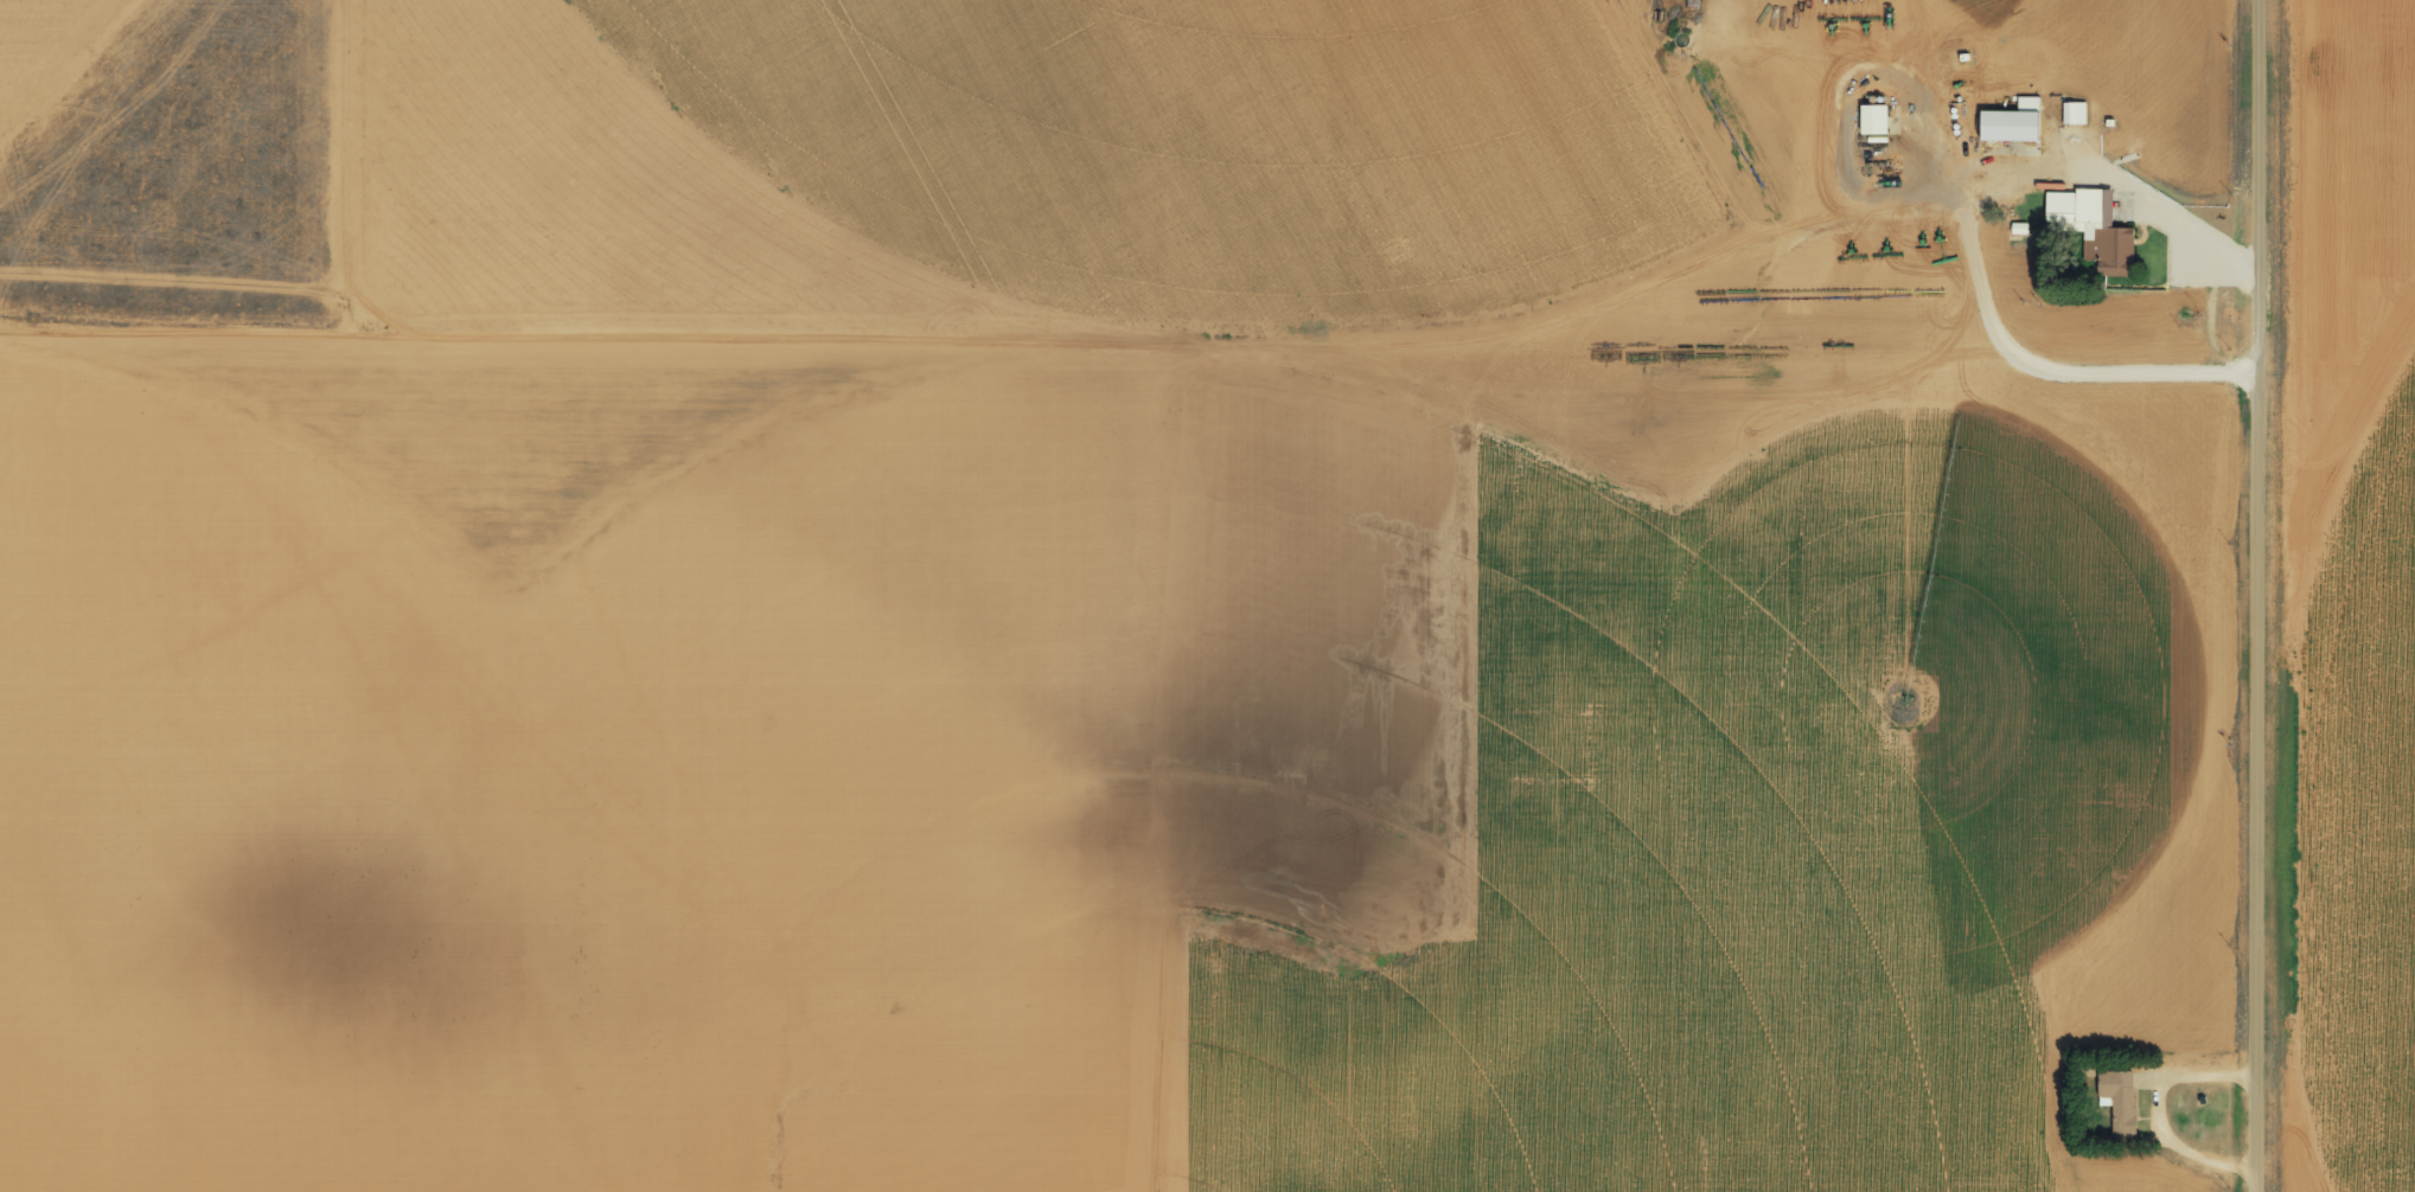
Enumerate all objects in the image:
building: (2074, 113)
building: (1874, 118)
building: (2013, 121)
building: (2093, 226)
road: (1973, 242)
road: (2215, 314)
road: (2253, 595)
building: (2117, 1096)

